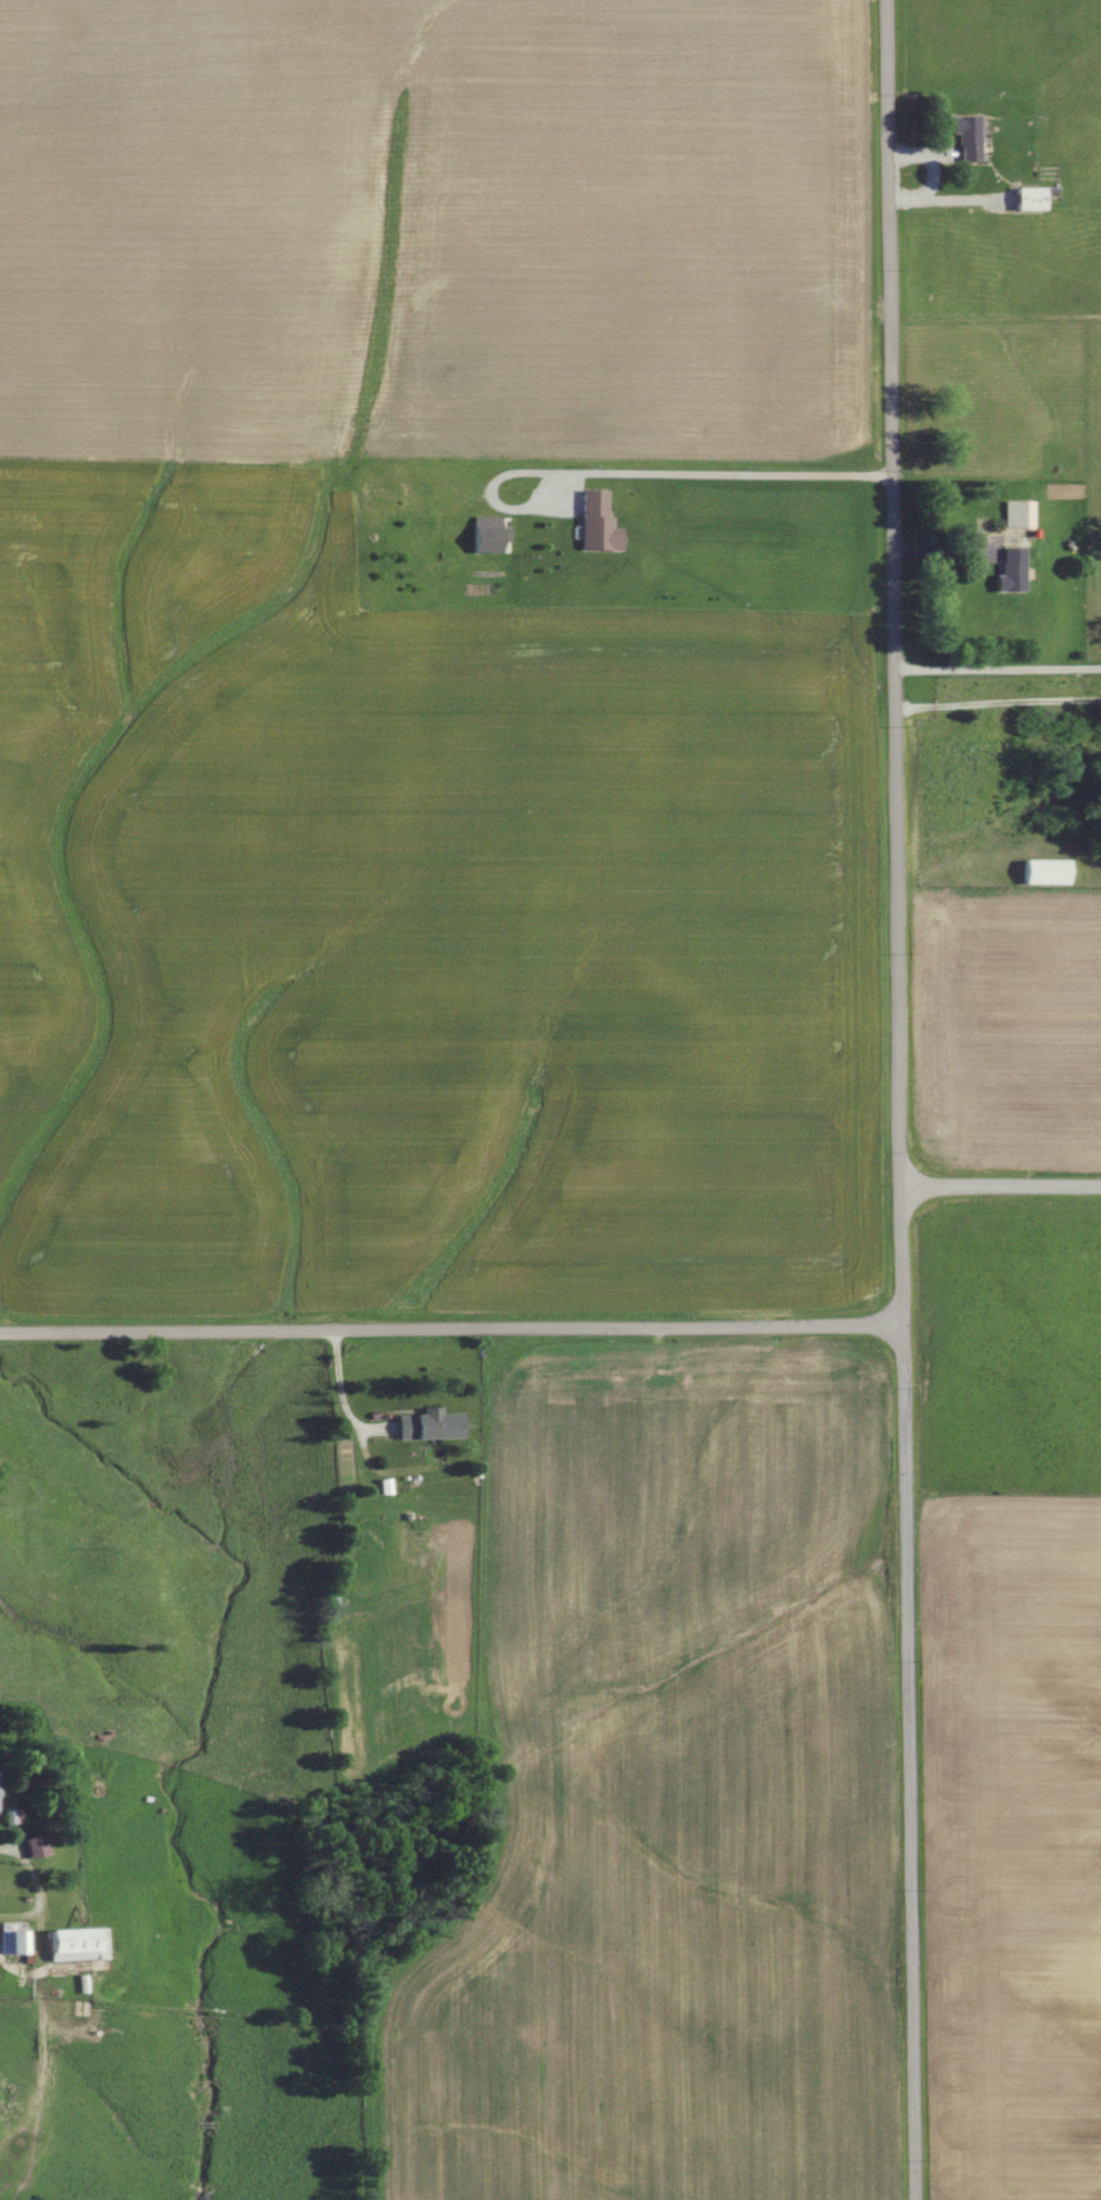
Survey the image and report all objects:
building: (969, 138)
building: (1030, 200)
road: (724, 472)
building: (1017, 514)
building: (598, 524)
building: (490, 536)
building: (1011, 572)
road: (894, 593)
road: (998, 669)
road: (998, 704)
building: (1046, 873)
road: (1001, 1188)
road: (901, 1253)
road: (450, 1327)
road: (344, 1395)
building: (431, 1425)
road: (906, 1760)
building: (35, 1846)
road: (9, 1885)
building: (77, 1944)

